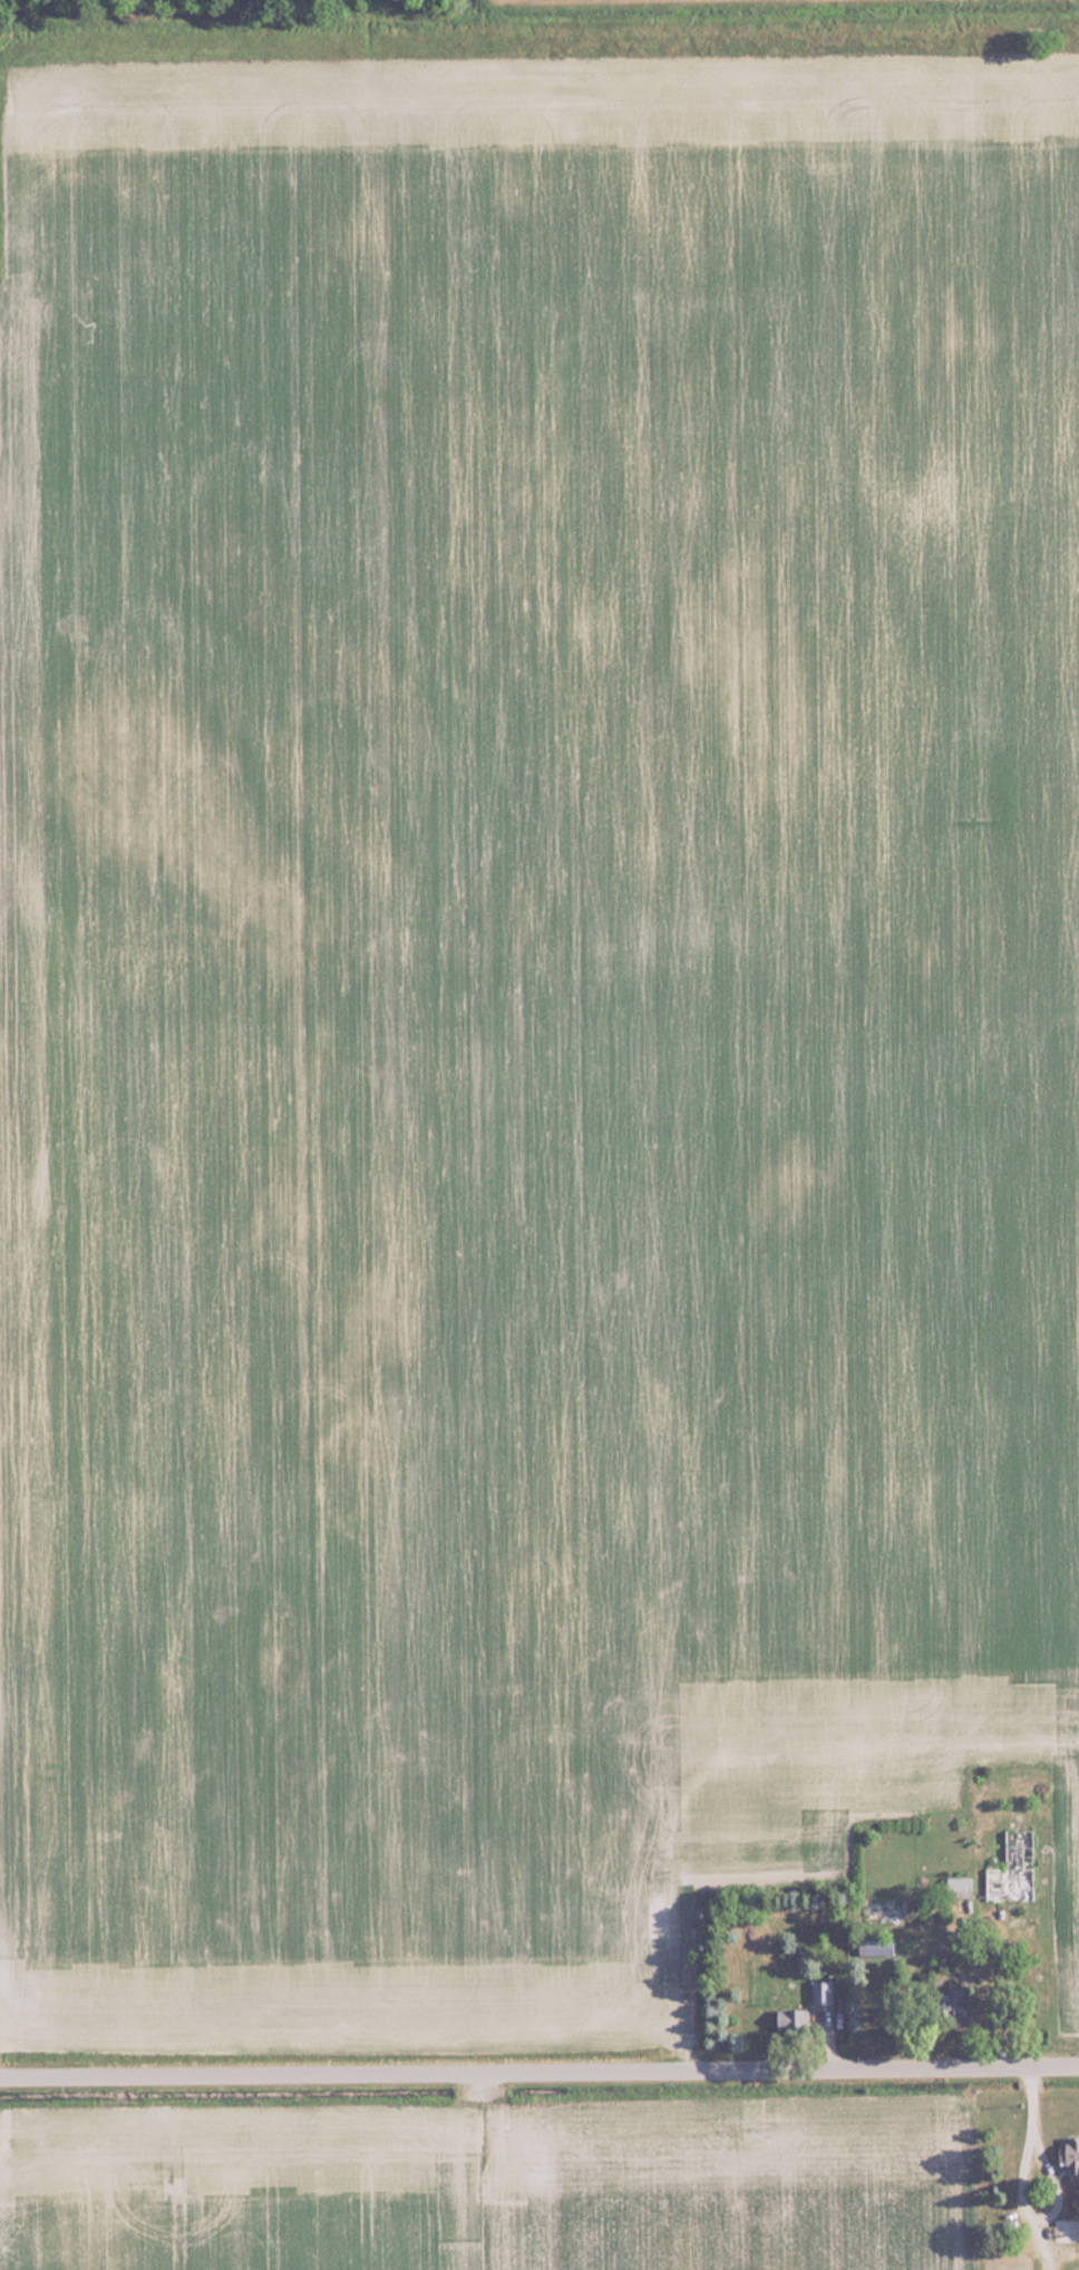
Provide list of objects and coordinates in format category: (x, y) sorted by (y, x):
building: (1011, 1865)
building: (959, 1888)
building: (886, 1948)
building: (820, 1991)
building: (953, 2001)
building: (791, 2019)
road: (539, 2076)
building: (1071, 2154)
building: (1066, 2229)

